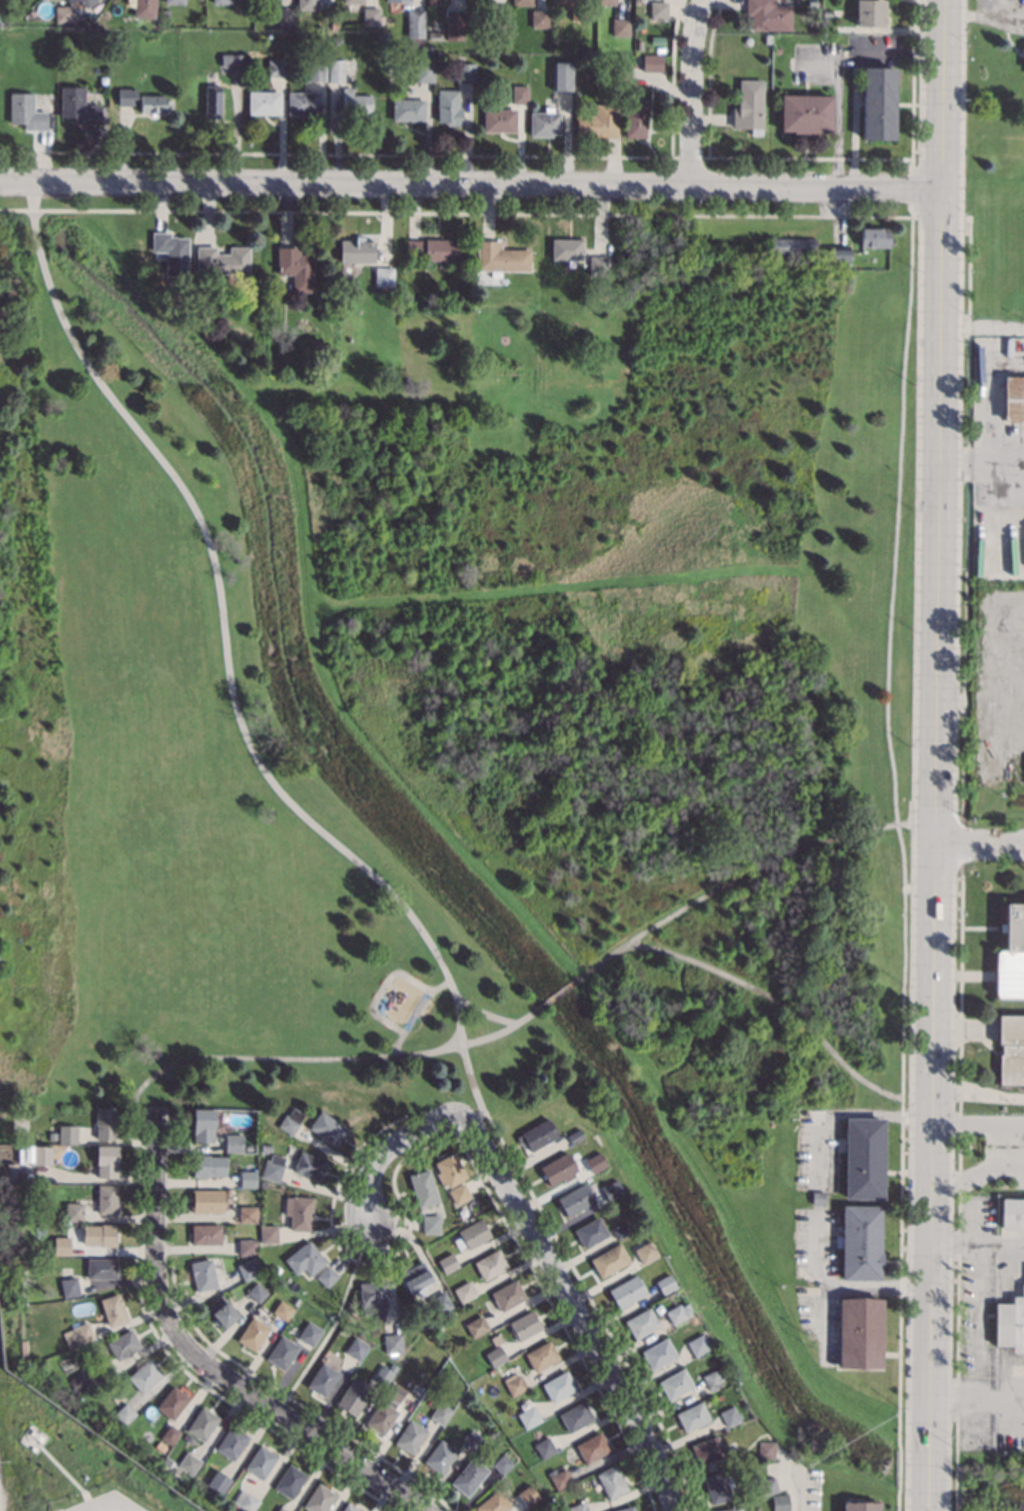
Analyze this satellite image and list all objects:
building: (267, 0)
building: (398, 0)
building: (69, 1)
building: (174, 1)
building: (222, 1)
building: (352, 1)
building: (85, 2)
building: (437, 2)
building: (521, 2)
building: (561, 2)
building: (604, 2)
building: (812, 2)
building: (306, 4)
building: (144, 8)
building: (658, 9)
building: (165, 12)
building: (826, 12)
building: (869, 12)
building: (63, 14)
building: (283, 15)
building: (370, 15)
building: (582, 15)
building: (768, 15)
building: (538, 18)
building: (499, 20)
building: (415, 22)
building: (333, 25)
building: (454, 25)
building: (620, 27)
building: (434, 35)
building: (767, 38)
building: (336, 39)
building: (639, 45)
building: (777, 49)
building: (233, 60)
building: (652, 63)
building: (276, 67)
building: (336, 70)
building: (424, 71)
building: (316, 72)
building: (465, 73)
building: (563, 75)
road: (689, 92)
building: (520, 94)
building: (212, 95)
building: (126, 96)
building: (356, 101)
building: (264, 102)
building: (153, 103)
building: (304, 103)
building: (877, 103)
building: (78, 105)
building: (748, 106)
building: (448, 107)
building: (408, 109)
building: (26, 111)
road: (838, 111)
building: (805, 113)
building: (635, 118)
building: (499, 120)
building: (544, 122)
building: (598, 122)
road: (414, 154)
road: (689, 156)
road: (809, 156)
road: (470, 184)
road: (911, 187)
building: (875, 236)
building: (793, 245)
building: (432, 248)
building: (565, 248)
building: (356, 250)
building: (172, 252)
building: (839, 253)
building: (500, 257)
building: (222, 260)
building: (596, 265)
building: (295, 267)
building: (383, 276)
building: (603, 293)
building: (336, 312)
road: (981, 320)
building: (316, 343)
road: (989, 397)
building: (1013, 398)
road: (1005, 458)
road: (961, 459)
road: (890, 606)
road: (229, 673)
park: (467, 713)
road: (934, 755)
road: (979, 844)
road: (746, 875)
building: (1011, 954)
road: (559, 992)
road: (382, 993)
road: (772, 996)
road: (486, 1012)
building: (1011, 1049)
road: (331, 1057)
road: (144, 1106)
road: (845, 1112)
building: (155, 1114)
road: (977, 1120)
building: (106, 1122)
building: (203, 1124)
building: (288, 1124)
building: (327, 1128)
building: (67, 1134)
building: (537, 1134)
building: (52, 1136)
building: (575, 1136)
building: (233, 1143)
building: (266, 1147)
building: (42, 1155)
building: (864, 1157)
building: (106, 1160)
building: (595, 1162)
building: (208, 1165)
building: (309, 1166)
building: (273, 1167)
building: (558, 1169)
building: (449, 1170)
building: (11, 1171)
road: (976, 1171)
building: (247, 1179)
building: (262, 1183)
building: (423, 1187)
building: (611, 1190)
building: (459, 1193)
building: (818, 1197)
building: (107, 1199)
building: (576, 1199)
building: (207, 1200)
building: (74, 1212)
building: (299, 1212)
building: (1012, 1213)
building: (247, 1214)
road: (155, 1220)
building: (430, 1224)
building: (620, 1230)
building: (590, 1231)
building: (268, 1233)
building: (99, 1234)
building: (205, 1234)
building: (472, 1234)
road: (976, 1240)
road: (531, 1241)
building: (860, 1241)
building: (62, 1246)
building: (247, 1247)
building: (646, 1253)
road: (900, 1253)
building: (305, 1258)
building: (609, 1259)
building: (447, 1262)
building: (490, 1264)
building: (101, 1267)
building: (248, 1268)
building: (276, 1268)
building: (203, 1274)
building: (326, 1275)
building: (415, 1278)
building: (665, 1283)
building: (69, 1286)
building: (464, 1291)
building: (627, 1291)
building: (257, 1292)
building: (508, 1294)
building: (373, 1295)
road: (842, 1295)
building: (440, 1302)
building: (113, 1309)
building: (282, 1310)
building: (222, 1312)
building: (675, 1313)
road: (335, 1320)
building: (641, 1322)
building: (1010, 1324)
building: (524, 1325)
building: (476, 1326)
building: (82, 1332)
building: (859, 1332)
building: (253, 1333)
building: (310, 1333)
building: (392, 1343)
building: (124, 1344)
building: (698, 1344)
building: (356, 1348)
building: (282, 1352)
building: (336, 1353)
building: (658, 1353)
building: (495, 1355)
building: (541, 1355)
building: (384, 1373)
building: (145, 1375)
building: (323, 1379)
building: (712, 1379)
building: (84, 1380)
building: (513, 1383)
building: (675, 1383)
building: (558, 1385)
building: (72, 1391)
building: (353, 1395)
road: (975, 1401)
building: (173, 1402)
building: (386, 1409)
building: (124, 1413)
building: (440, 1413)
building: (729, 1415)
building: (528, 1416)
building: (575, 1416)
building: (692, 1416)
road: (292, 1422)
building: (203, 1423)
building: (170, 1434)
building: (410, 1437)
building: (471, 1439)
building: (232, 1442)
building: (544, 1447)
building: (592, 1447)
building: (707, 1449)
building: (766, 1449)
building: (572, 1453)
building: (440, 1457)
building: (261, 1461)
building: (188, 1463)
building: (502, 1464)
building: (469, 1476)
building: (560, 1478)
building: (290, 1480)
road: (794, 1480)
building: (611, 1481)
building: (219, 1482)
building: (768, 1485)
building: (717, 1486)
building: (209, 1492)
building: (528, 1495)
building: (319, 1498)
building: (246, 1501)
building: (779, 1502)
parking lot: (107, 1503)
road: (109, 1503)
building: (493, 1503)
building: (578, 1506)
building: (860, 1506)
building: (349, 1507)
road: (124, 1508)
building: (281, 1509)
building: (625, 1509)
road: (678, 1509)
building: (725, 1509)

